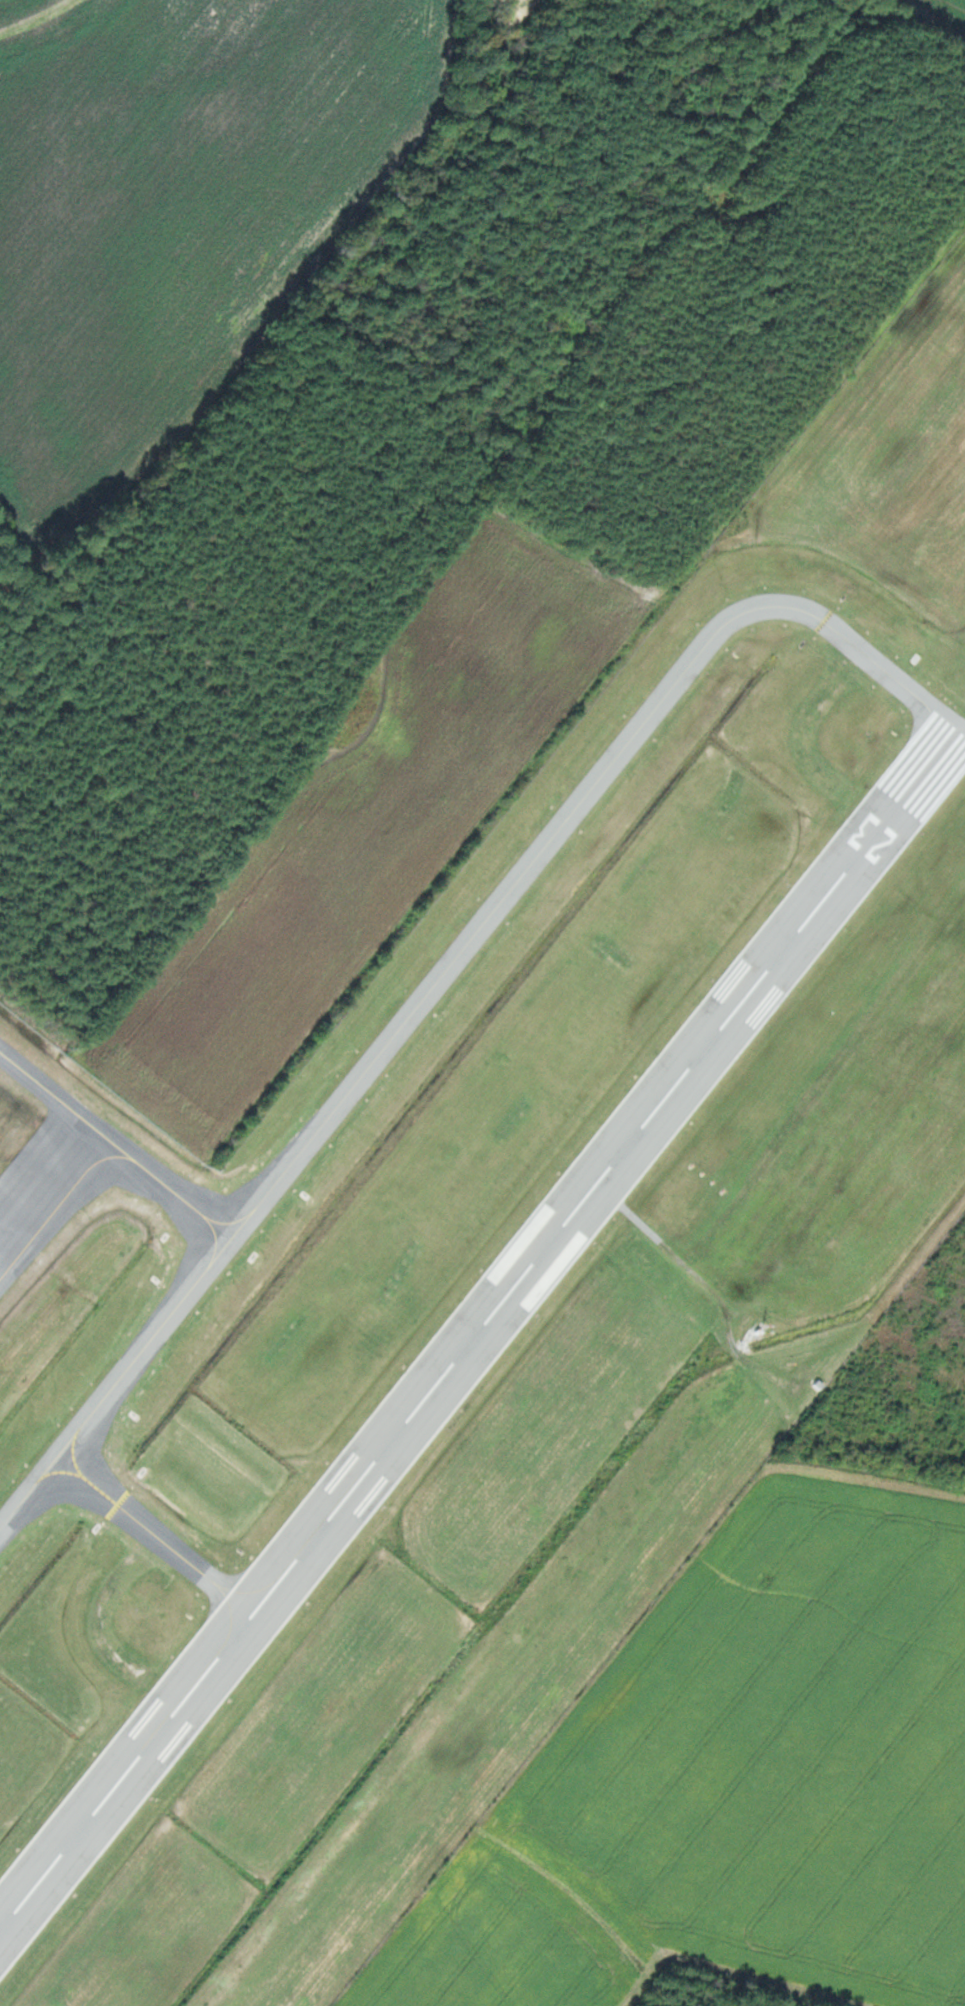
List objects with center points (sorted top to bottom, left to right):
airport taxiway: (450, 966)
airport: (510, 1250)
airport runway: (482, 1333)
airport taxiway: (149, 1527)
airport taxiway: (104, 1629)

